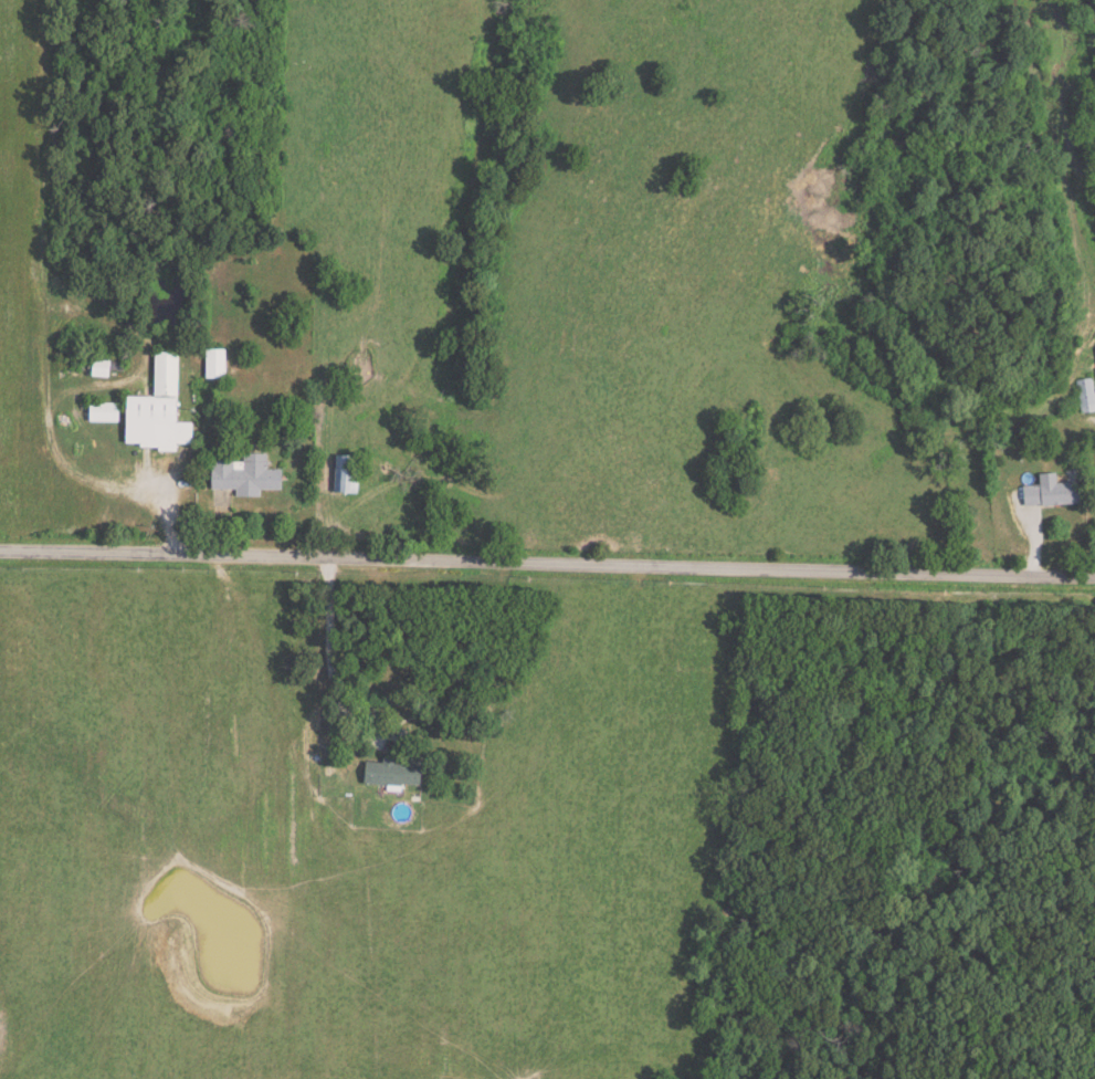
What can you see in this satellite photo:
building: (217, 363)
building: (1086, 396)
building: (160, 409)
building: (107, 411)
building: (351, 473)
building: (249, 474)
building: (1040, 492)
road: (547, 563)
road: (330, 656)
building: (398, 772)

